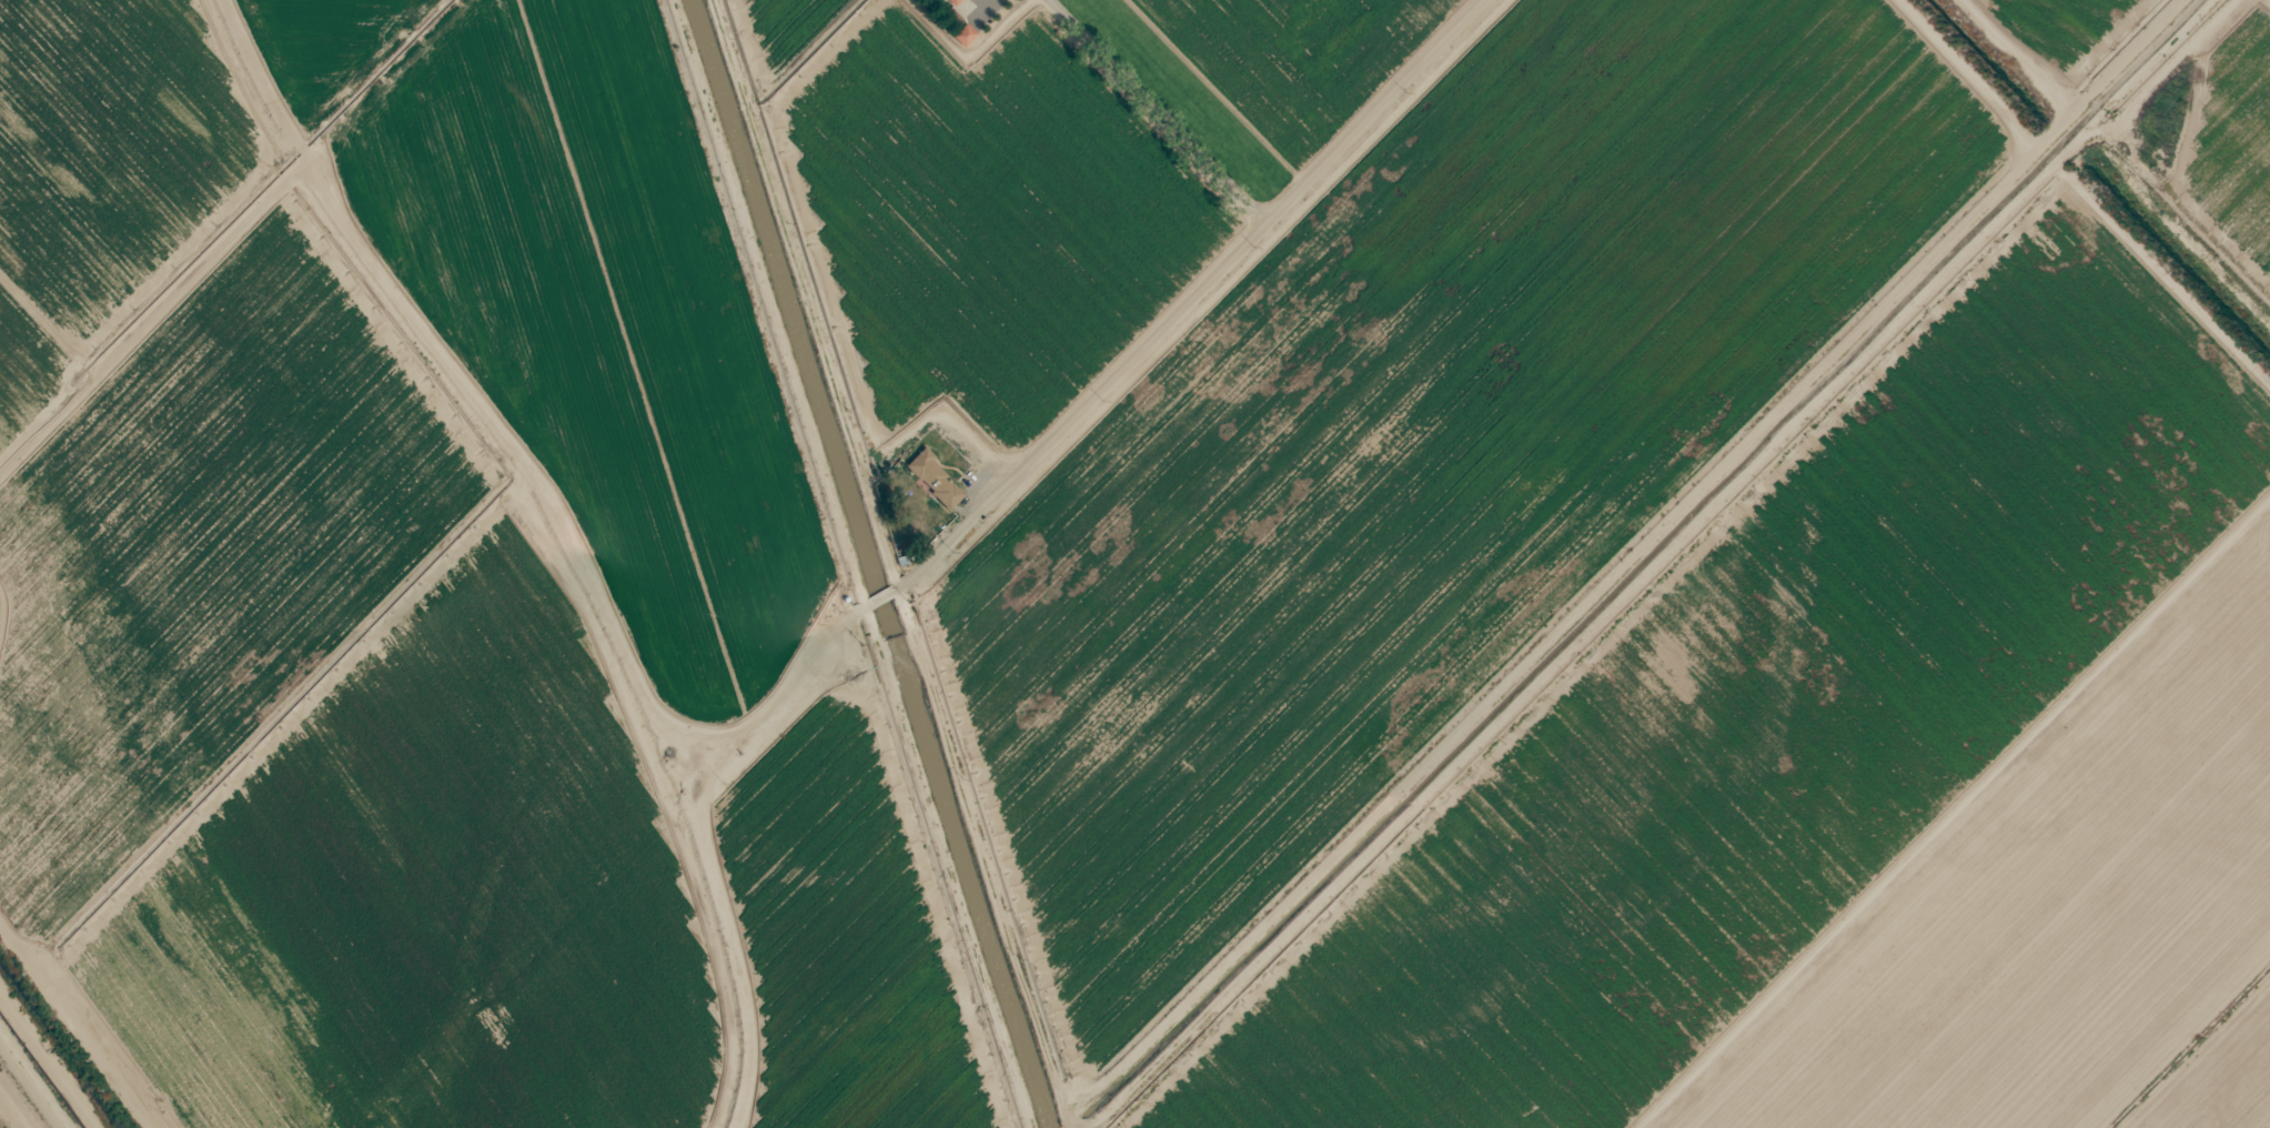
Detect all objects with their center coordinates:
building: (958, 1)
building: (967, 32)
road: (1184, 98)
road: (1184, 298)
building: (926, 466)
road: (1736, 601)
road: (875, 607)
road: (1967, 839)
road: (704, 845)
road: (70, 1028)
road: (19, 1101)

